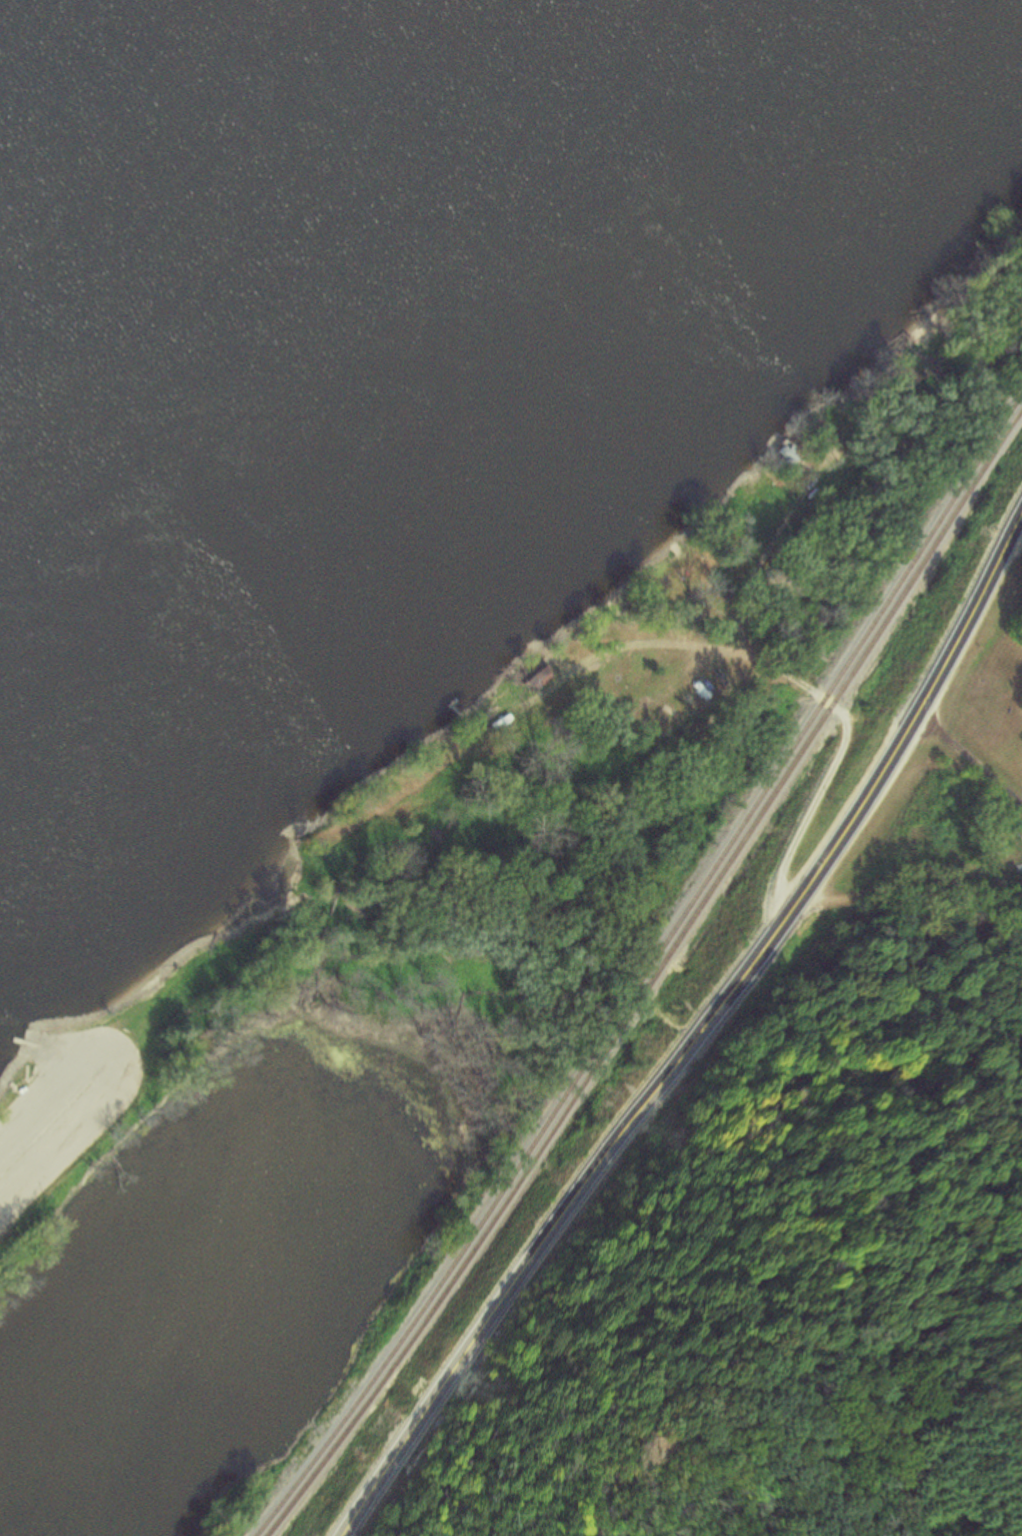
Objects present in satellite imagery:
river: (98, 74)
road: (675, 640)
road: (969, 758)
railway: (645, 968)
railway: (651, 979)
road: (694, 1036)
parking lot: (60, 1100)
road: (46, 1111)
park: (25, 1225)

